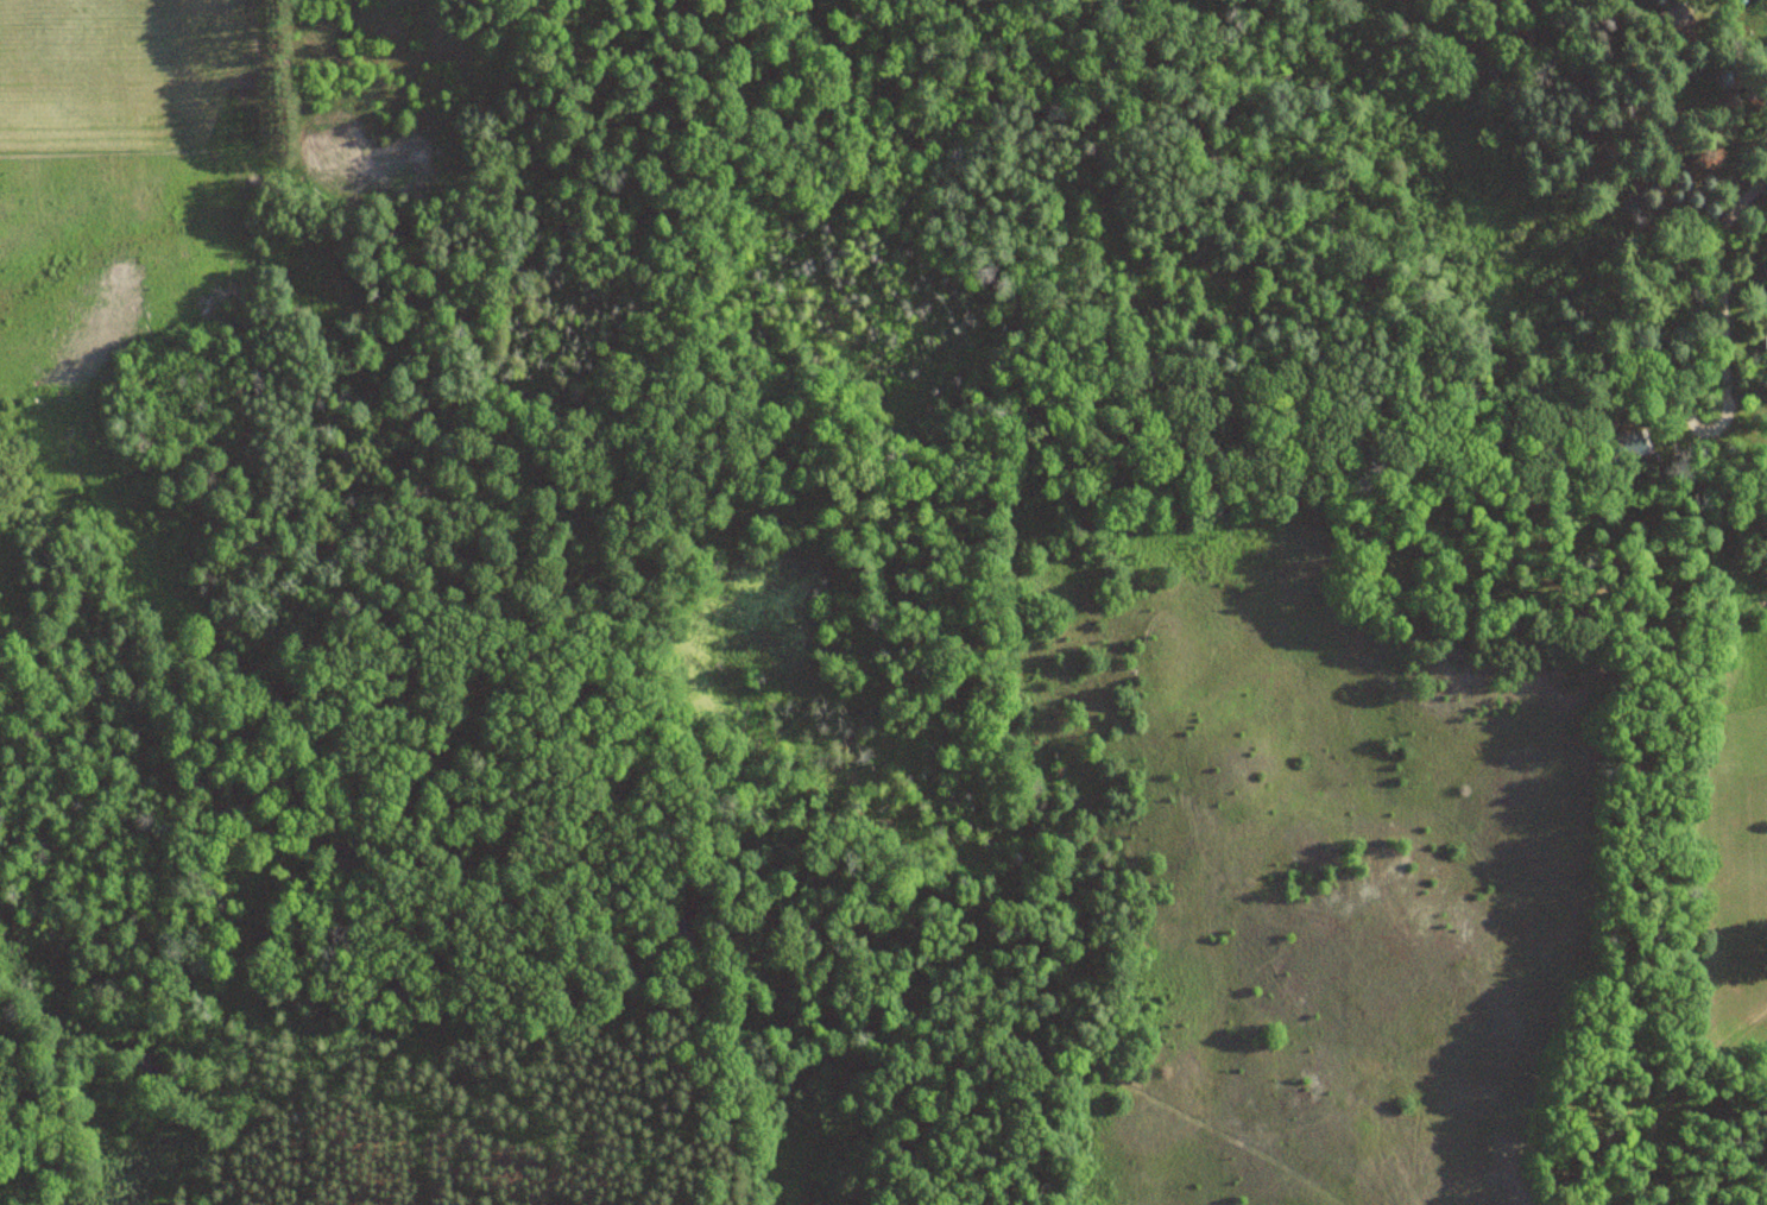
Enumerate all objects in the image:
building: (1766, 346)
building: (1626, 444)

